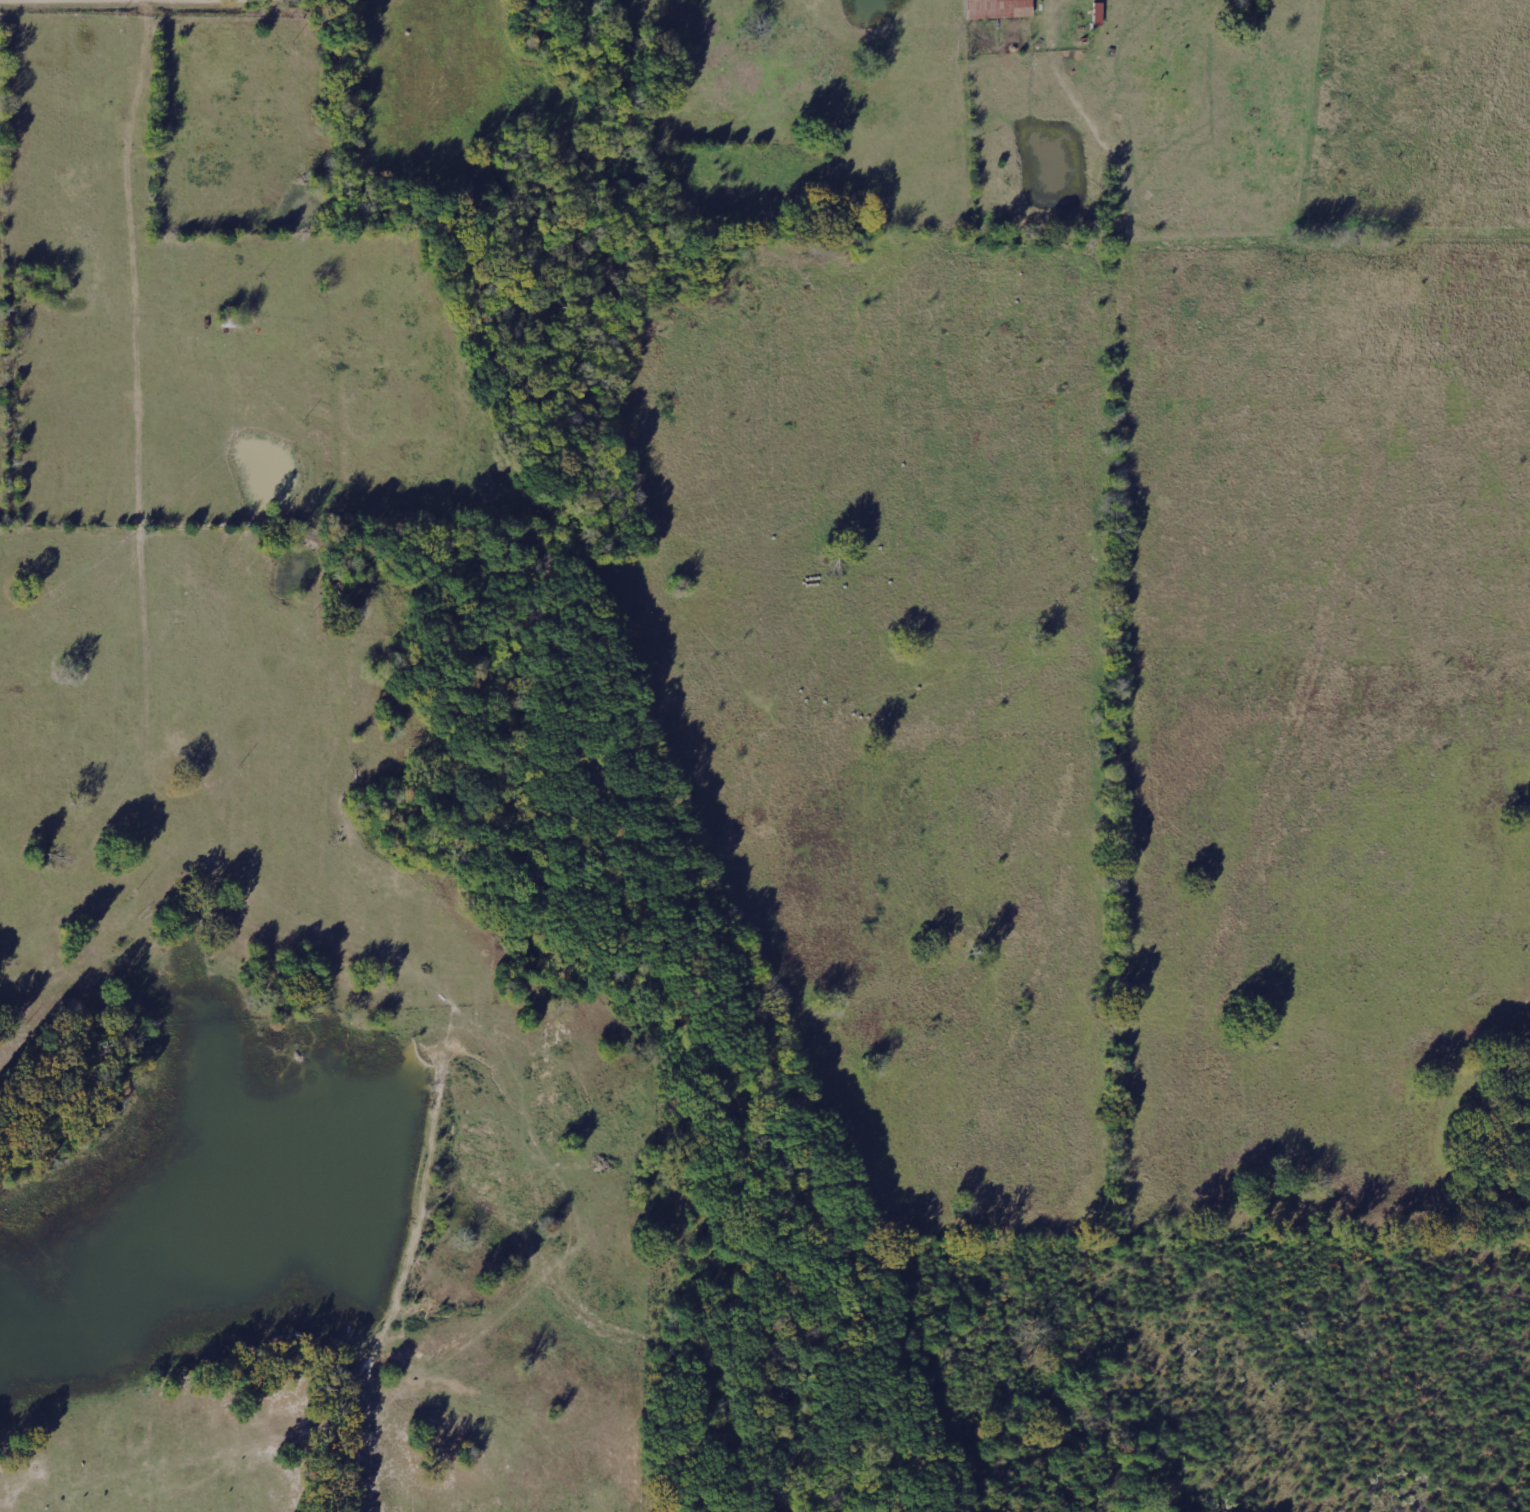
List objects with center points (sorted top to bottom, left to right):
road: (133, 2)

